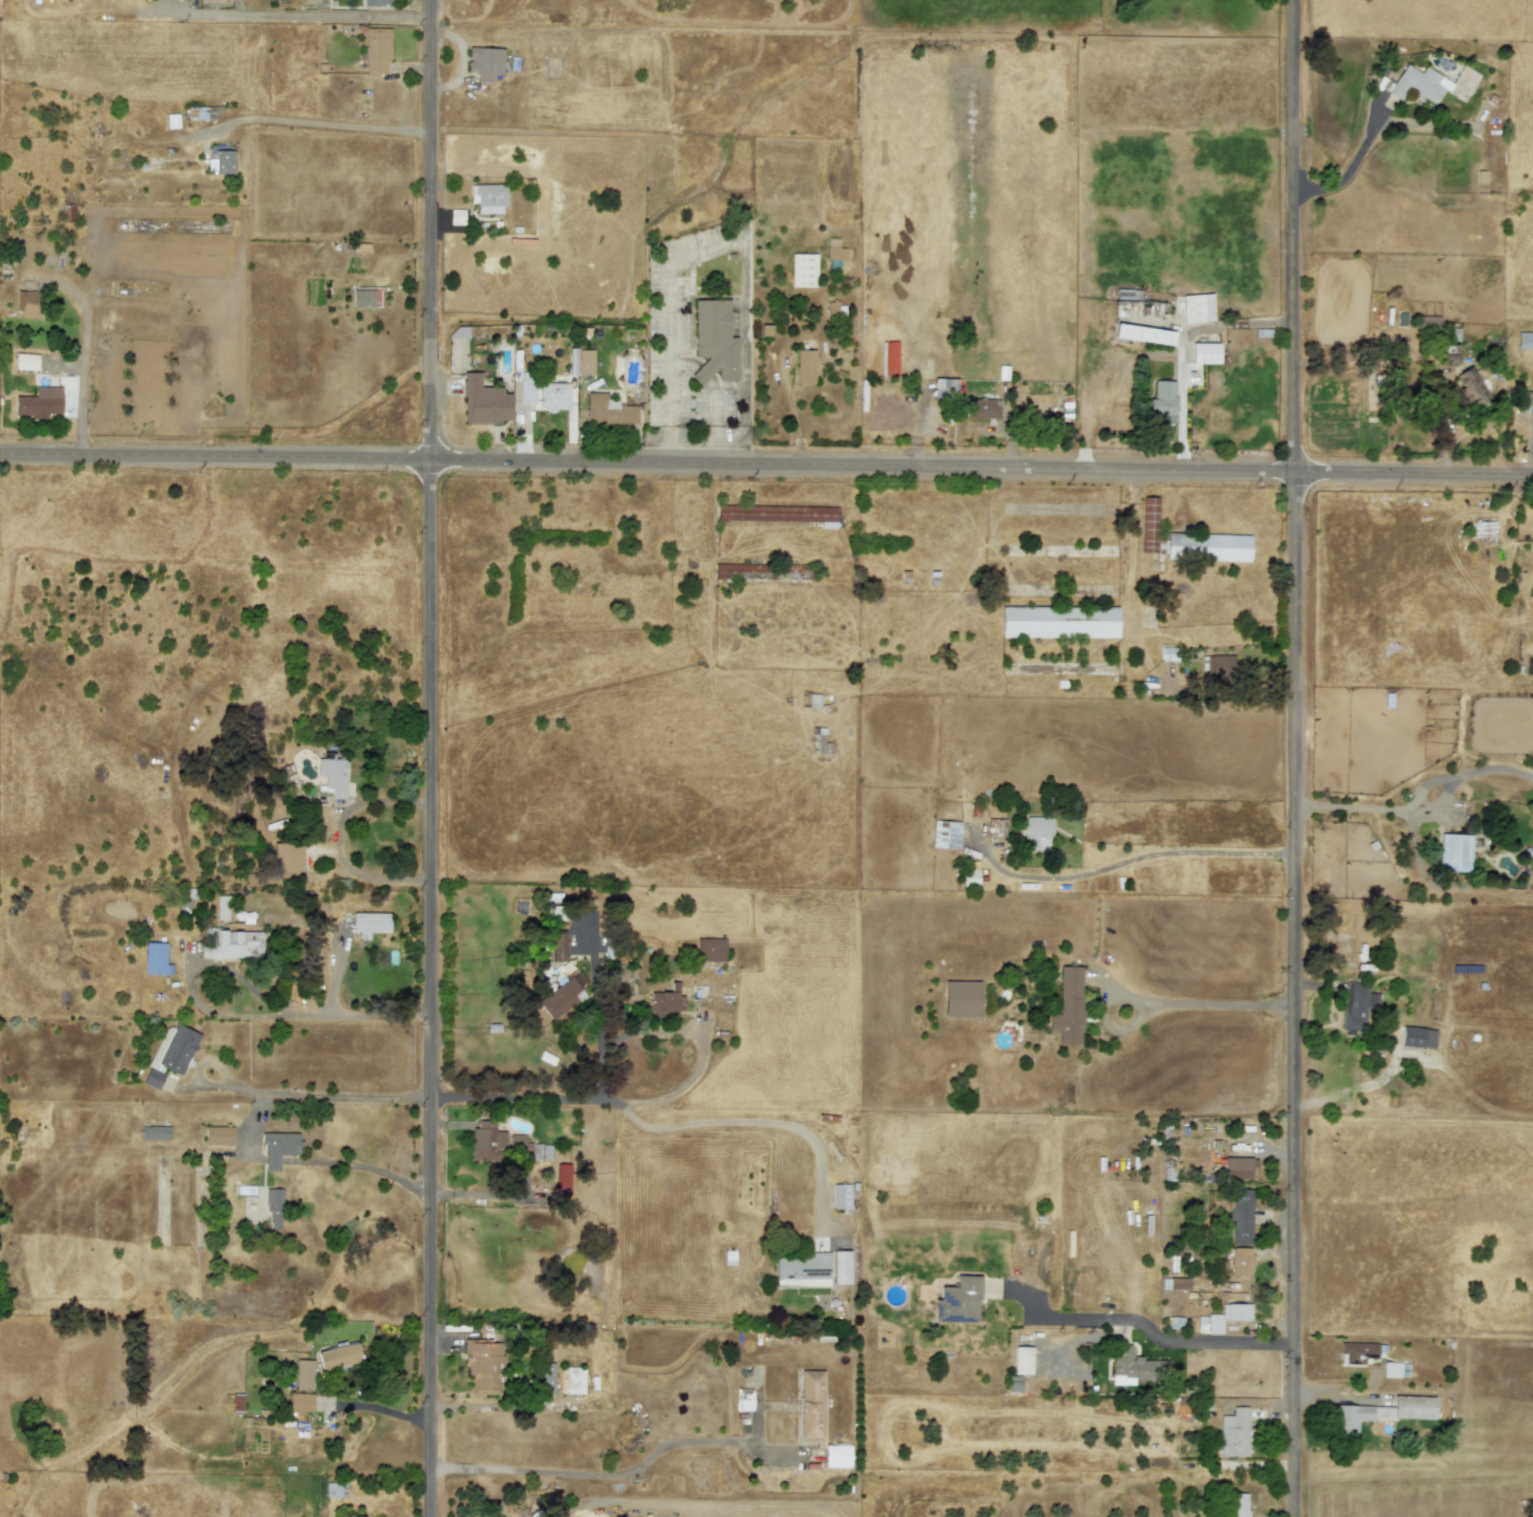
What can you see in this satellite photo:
building: (378, 2)
road: (288, 16)
building: (377, 50)
building: (484, 62)
building: (1418, 84)
building: (195, 113)
road: (334, 124)
building: (220, 159)
road: (1349, 173)
building: (489, 198)
building: (67, 213)
building: (456, 216)
building: (834, 250)
building: (803, 270)
building: (363, 299)
building: (28, 305)
building: (1197, 307)
road: (671, 325)
building: (1143, 334)
building: (1524, 340)
building: (714, 341)
road: (84, 351)
building: (1205, 352)
building: (1446, 354)
building: (26, 362)
building: (585, 362)
building: (805, 366)
building: (1471, 387)
building: (527, 390)
building: (557, 394)
building: (1532, 398)
building: (483, 401)
building: (1163, 401)
building: (39, 402)
building: (980, 408)
building: (608, 410)
road: (791, 416)
road: (766, 466)
building: (777, 513)
building: (1149, 524)
building: (1208, 547)
building: (1059, 622)
building: (1218, 664)
road: (428, 758)
road: (1298, 758)
building: (331, 780)
road: (1367, 809)
building: (995, 828)
building: (1038, 833)
building: (946, 835)
road: (338, 839)
building: (1454, 852)
building: (287, 857)
road: (1130, 861)
building: (221, 908)
building: (369, 923)
building: (234, 944)
building: (558, 946)
building: (710, 949)
building: (155, 959)
building: (563, 995)
road: (595, 995)
building: (961, 999)
building: (667, 1002)
road: (1206, 1005)
building: (1356, 1005)
building: (1068, 1006)
road: (234, 1014)
road: (683, 1032)
building: (1417, 1037)
building: (170, 1054)
road: (316, 1096)
road: (524, 1100)
road: (757, 1123)
building: (155, 1133)
building: (218, 1135)
building: (487, 1142)
building: (279, 1147)
building: (527, 1149)
road: (365, 1166)
building: (1237, 1168)
building: (840, 1196)
building: (274, 1209)
building: (1241, 1216)
building: (1241, 1261)
building: (841, 1267)
building: (802, 1271)
building: (1178, 1284)
building: (958, 1300)
building: (1227, 1316)
road: (1163, 1341)
building: (1357, 1352)
building: (338, 1357)
building: (1022, 1360)
building: (485, 1366)
building: (1134, 1367)
building: (1394, 1370)
building: (303, 1374)
building: (547, 1378)
building: (572, 1380)
building: (745, 1400)
building: (300, 1402)
building: (812, 1404)
road: (381, 1409)
building: (1382, 1412)
building: (1234, 1433)
building: (838, 1456)
road: (593, 1473)
building: (336, 1489)
building: (1237, 1504)

